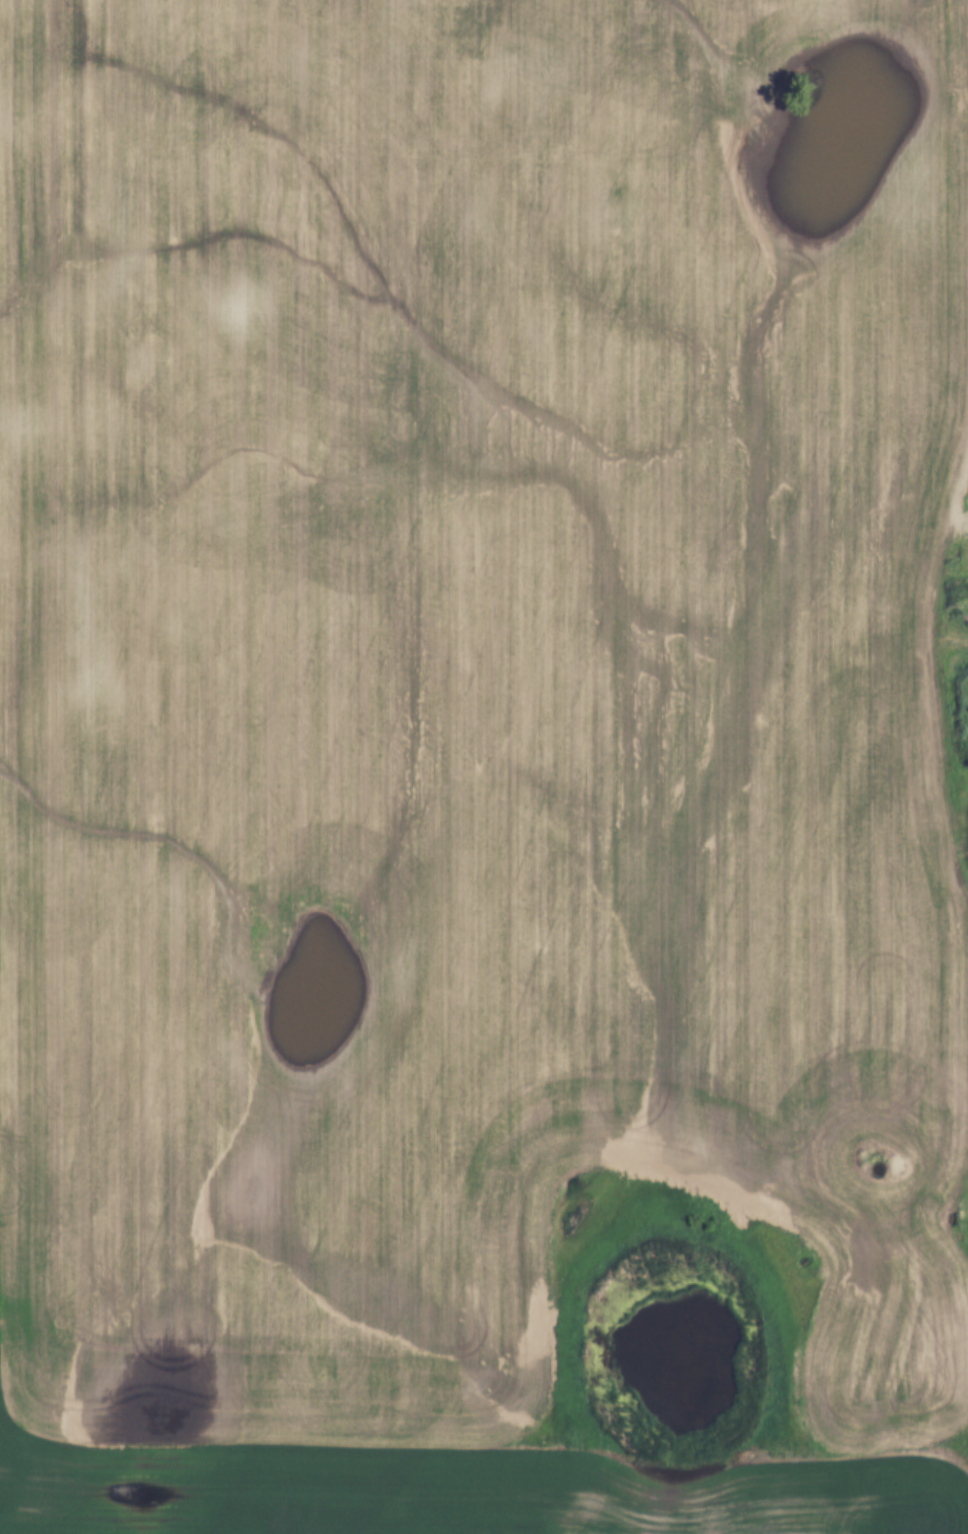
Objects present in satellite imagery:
quarry: (946, 806)

